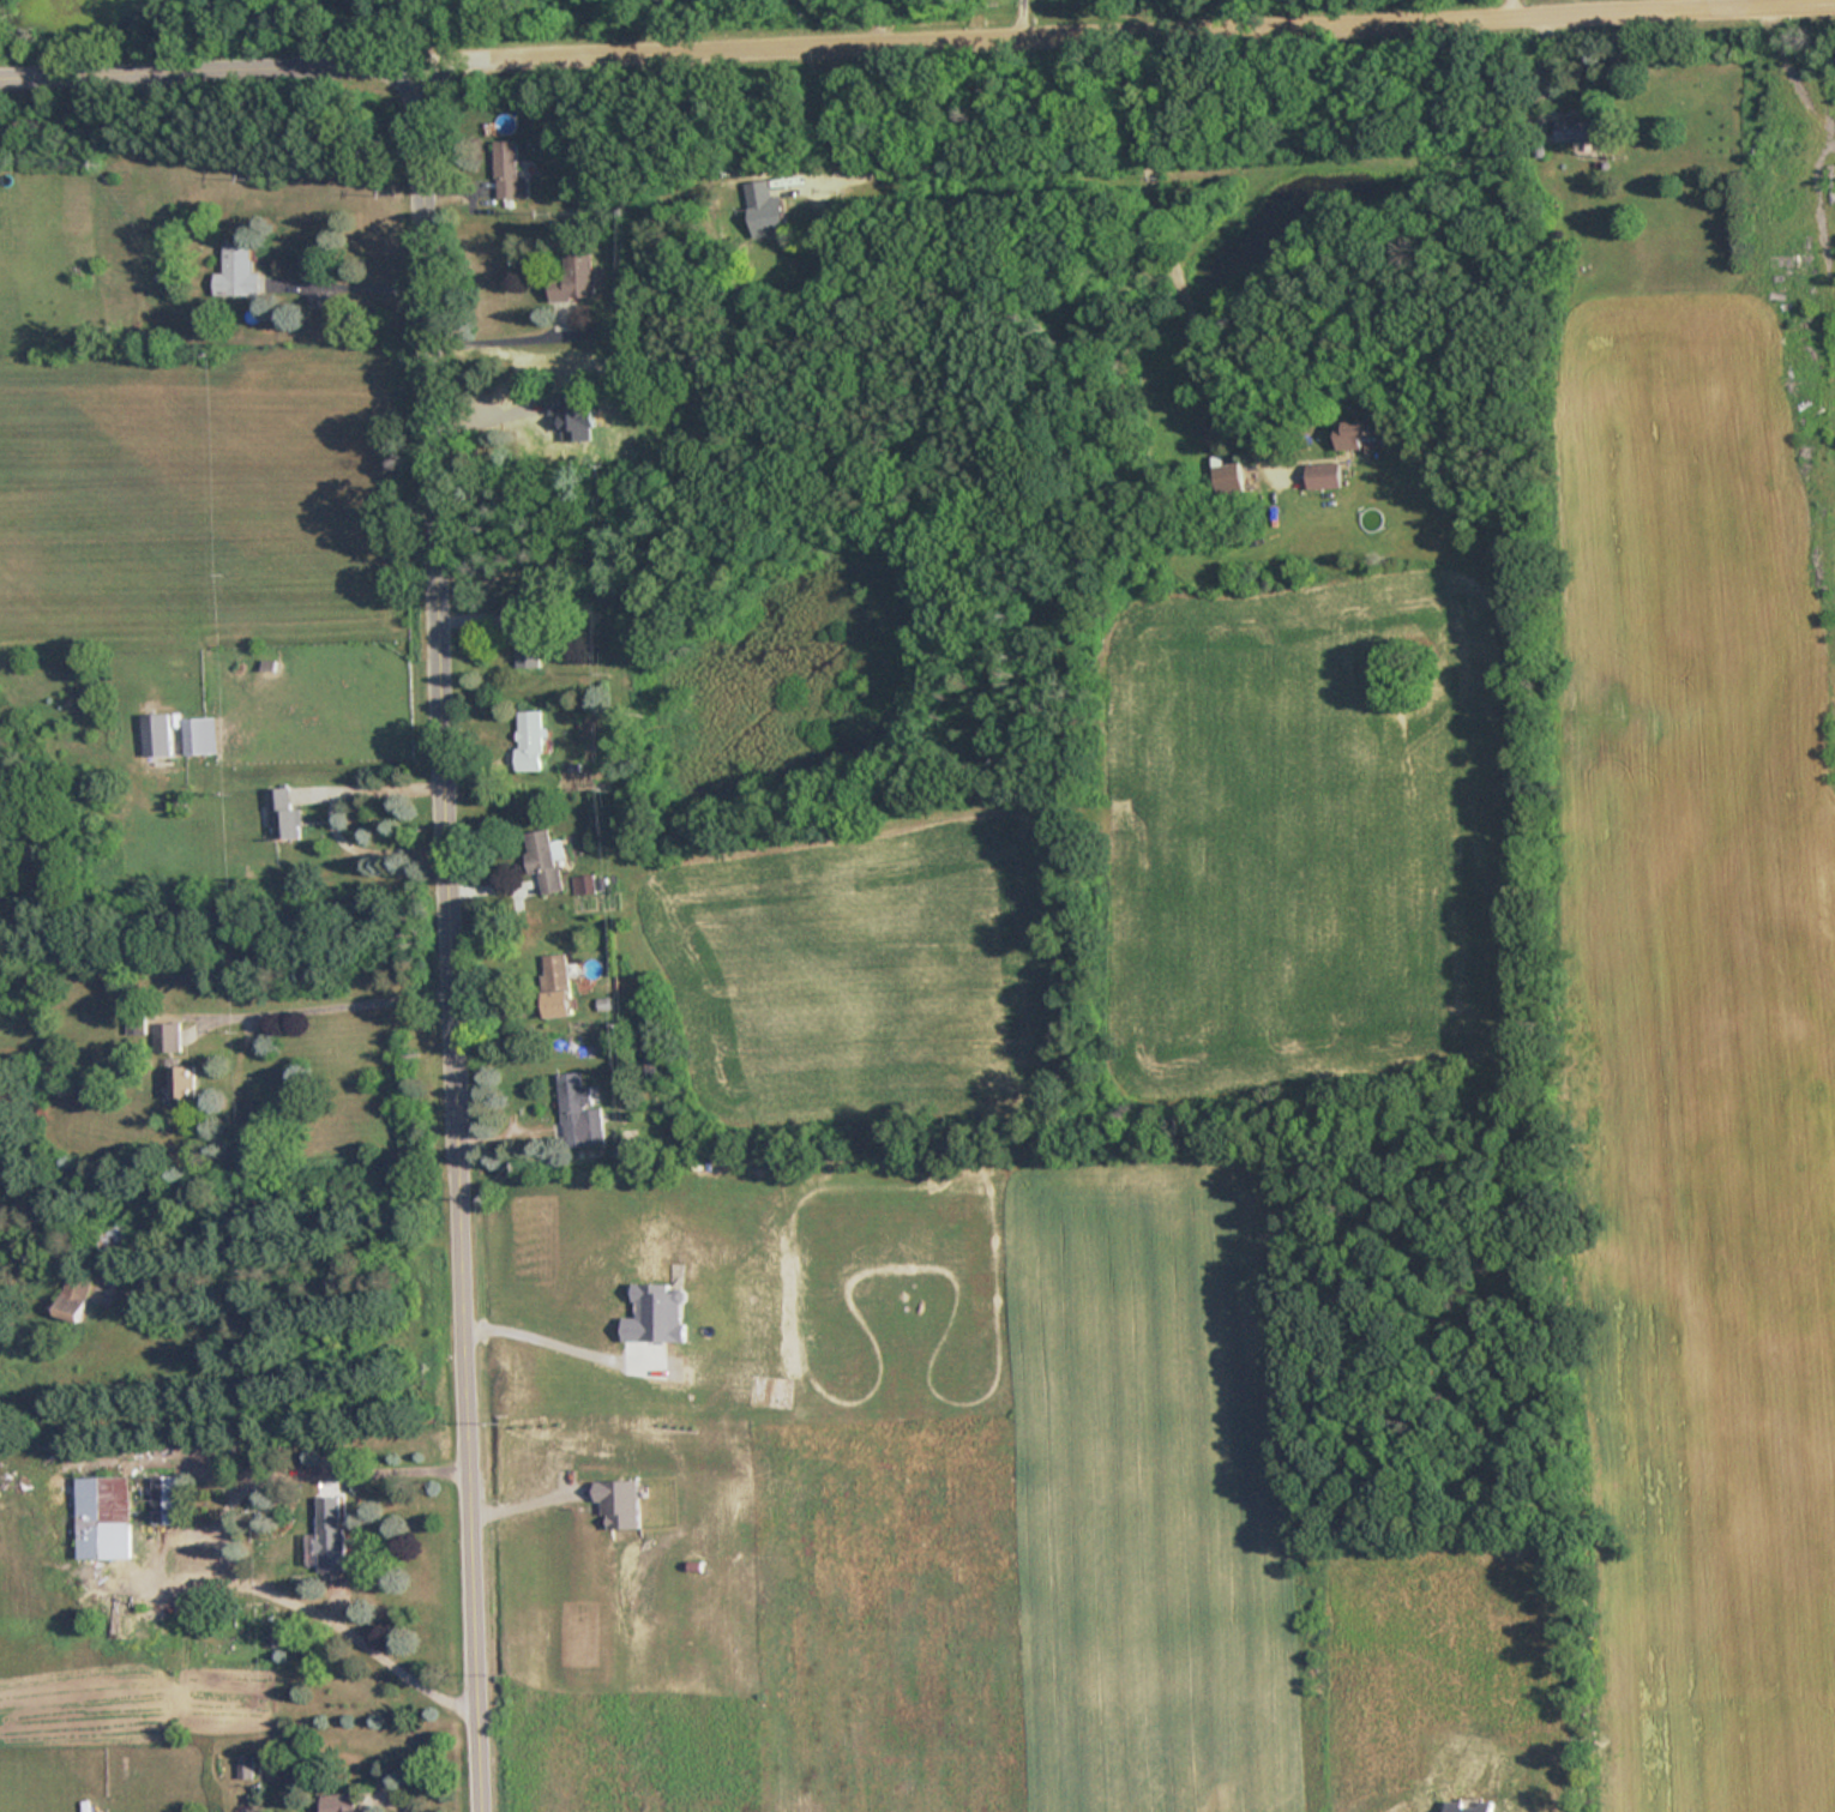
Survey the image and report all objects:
road: (1514, 4)
road: (1019, 14)
road: (1046, 28)
road: (209, 66)
road: (1787, 72)
road: (61, 115)
building: (1580, 131)
building: (509, 173)
building: (764, 209)
building: (235, 271)
building: (574, 279)
road: (353, 284)
road: (500, 342)
building: (1360, 435)
building: (1228, 476)
building: (1323, 476)
building: (528, 638)
building: (156, 736)
building: (199, 736)
building: (529, 741)
road: (375, 788)
building: (284, 815)
road: (362, 850)
building: (543, 859)
road: (447, 934)
building: (555, 986)
road: (332, 1005)
building: (168, 1036)
building: (652, 1046)
building: (181, 1080)
building: (580, 1112)
building: (115, 1235)
building: (74, 1293)
building: (122, 1511)
building: (320, 1541)
road: (219, 1554)
building: (188, 1559)
building: (339, 1802)

